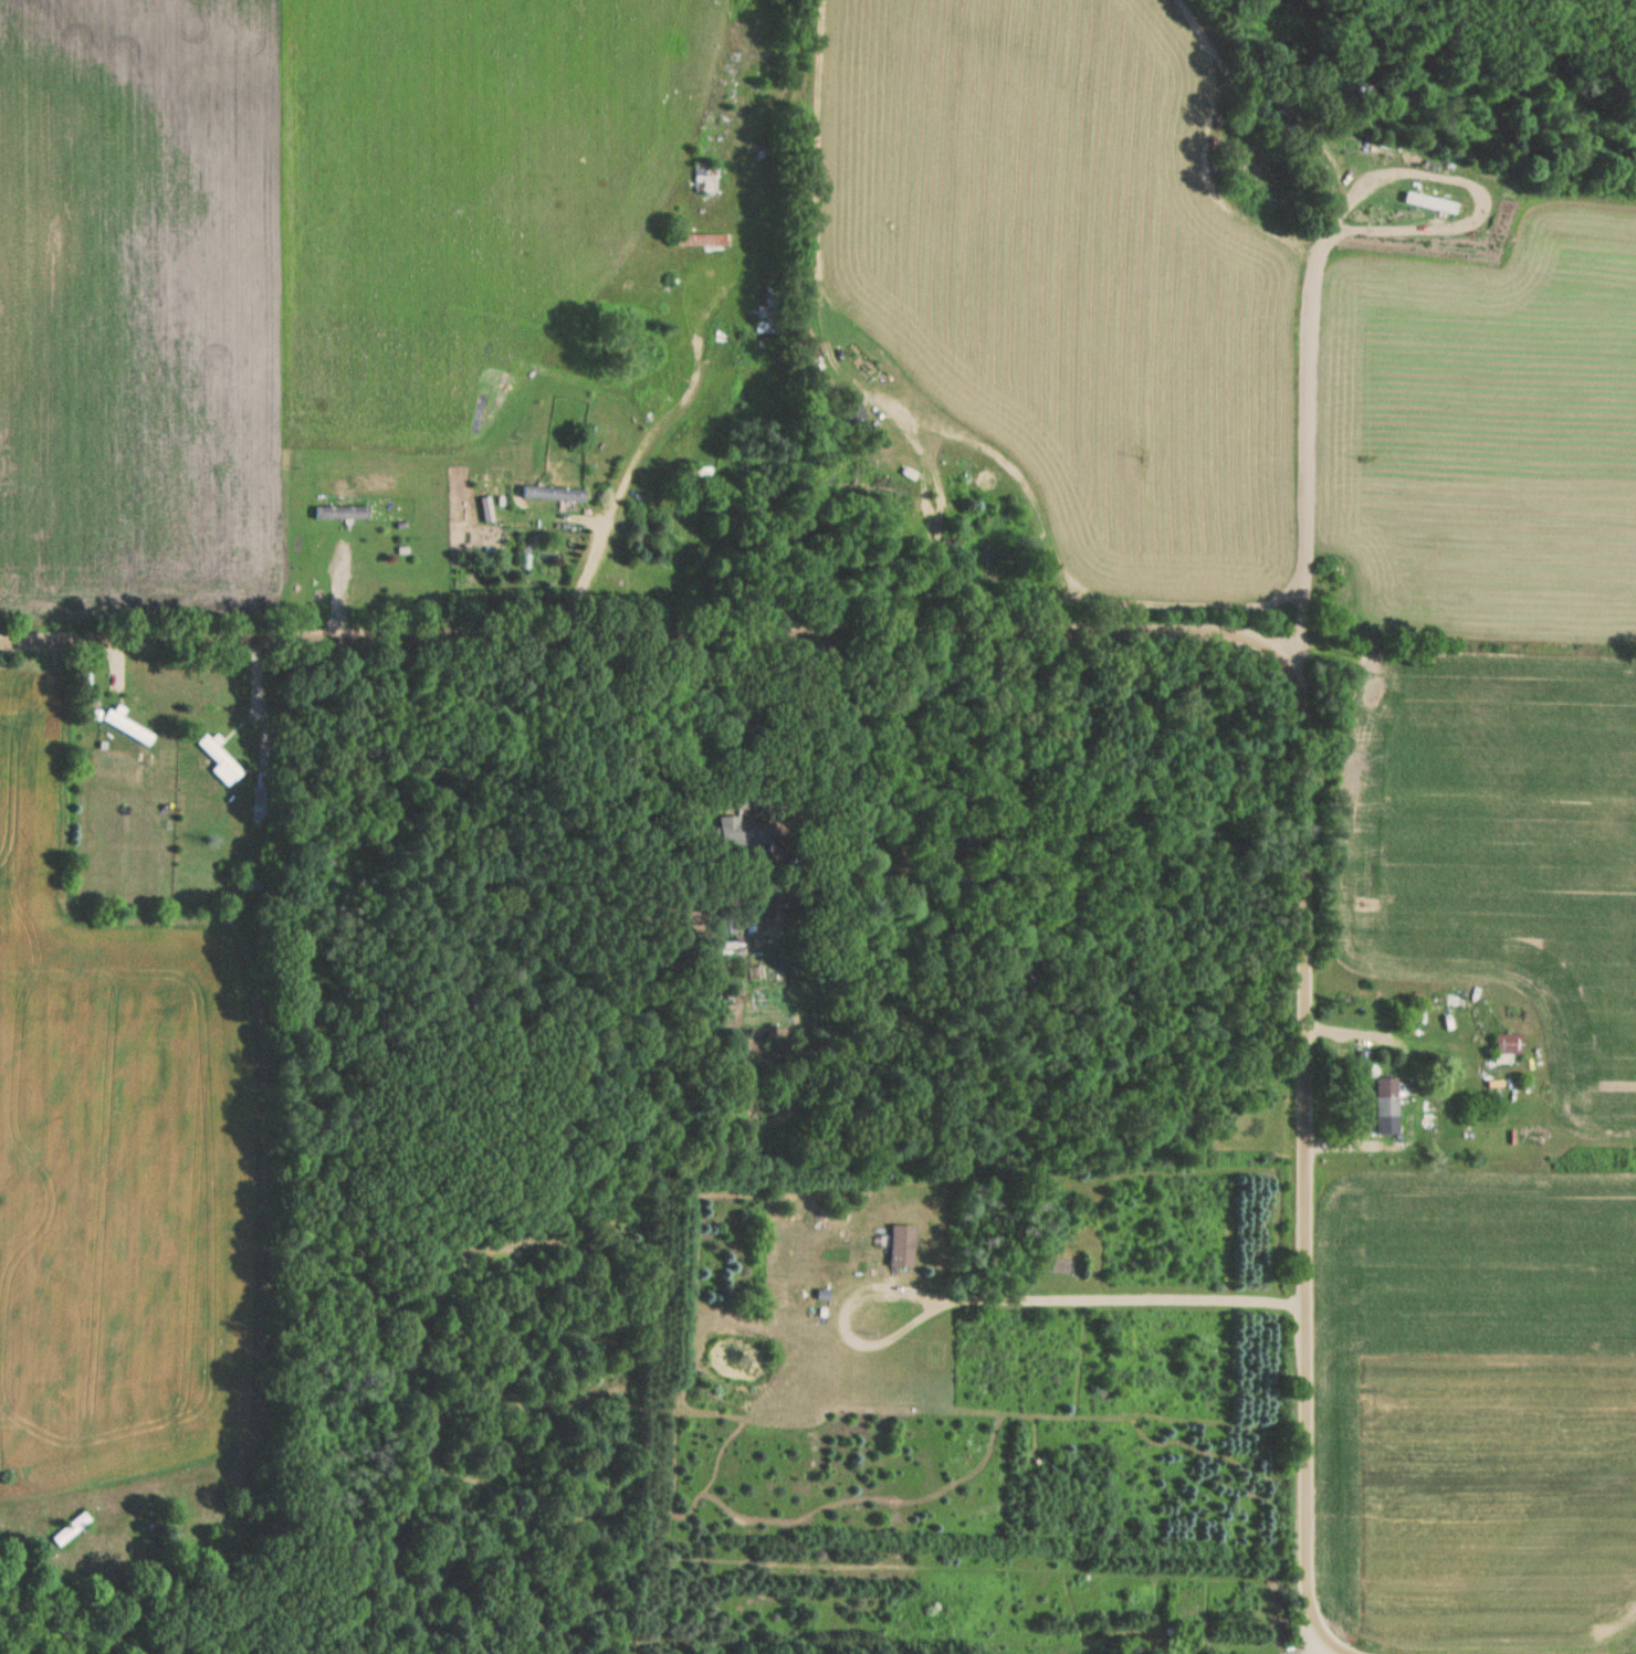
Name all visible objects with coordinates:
building: (705, 179)
building: (702, 240)
building: (767, 315)
road: (1294, 401)
building: (850, 411)
road: (1017, 476)
building: (553, 495)
building: (932, 513)
building: (340, 514)
road: (578, 577)
road: (1157, 628)
building: (128, 727)
building: (219, 758)
road: (784, 776)
building: (1509, 1045)
building: (1386, 1098)
building: (902, 1249)
road: (1003, 1300)
building: (71, 1529)

